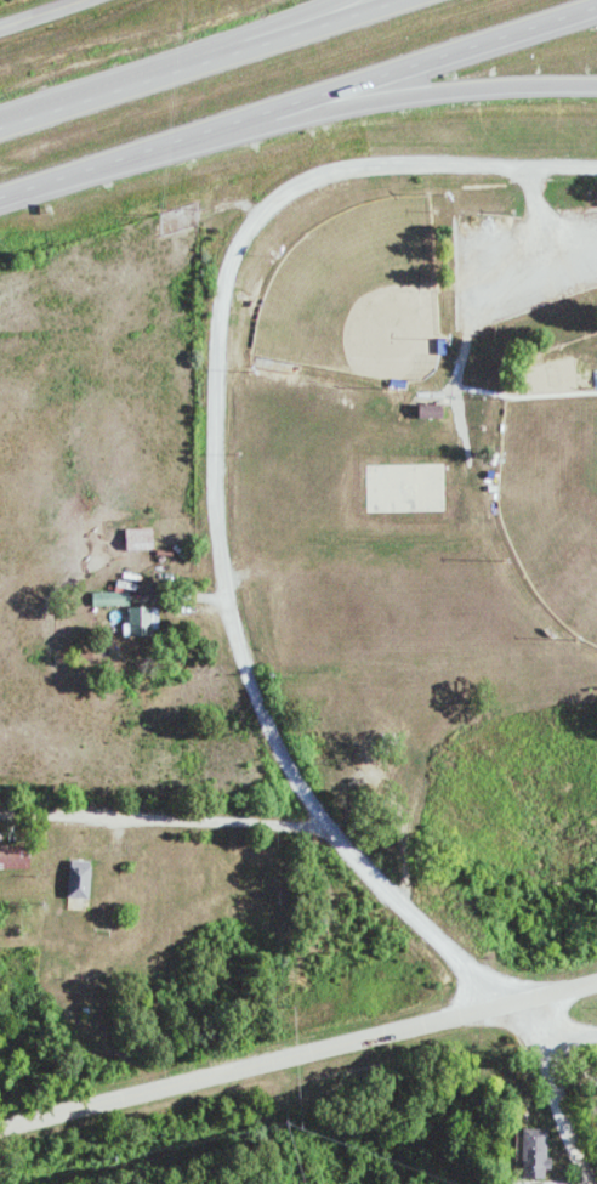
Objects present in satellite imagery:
road: (32, 10)
road: (283, 22)
road: (194, 56)
road: (428, 91)
road: (298, 100)
road: (453, 166)
park: (363, 293)
building: (428, 410)
road: (222, 491)
park: (555, 497)
building: (137, 539)
building: (109, 599)
building: (141, 621)
road: (163, 814)
building: (13, 857)
building: (76, 879)
road: (487, 980)
road: (561, 1030)
road: (300, 1052)
building: (534, 1154)

